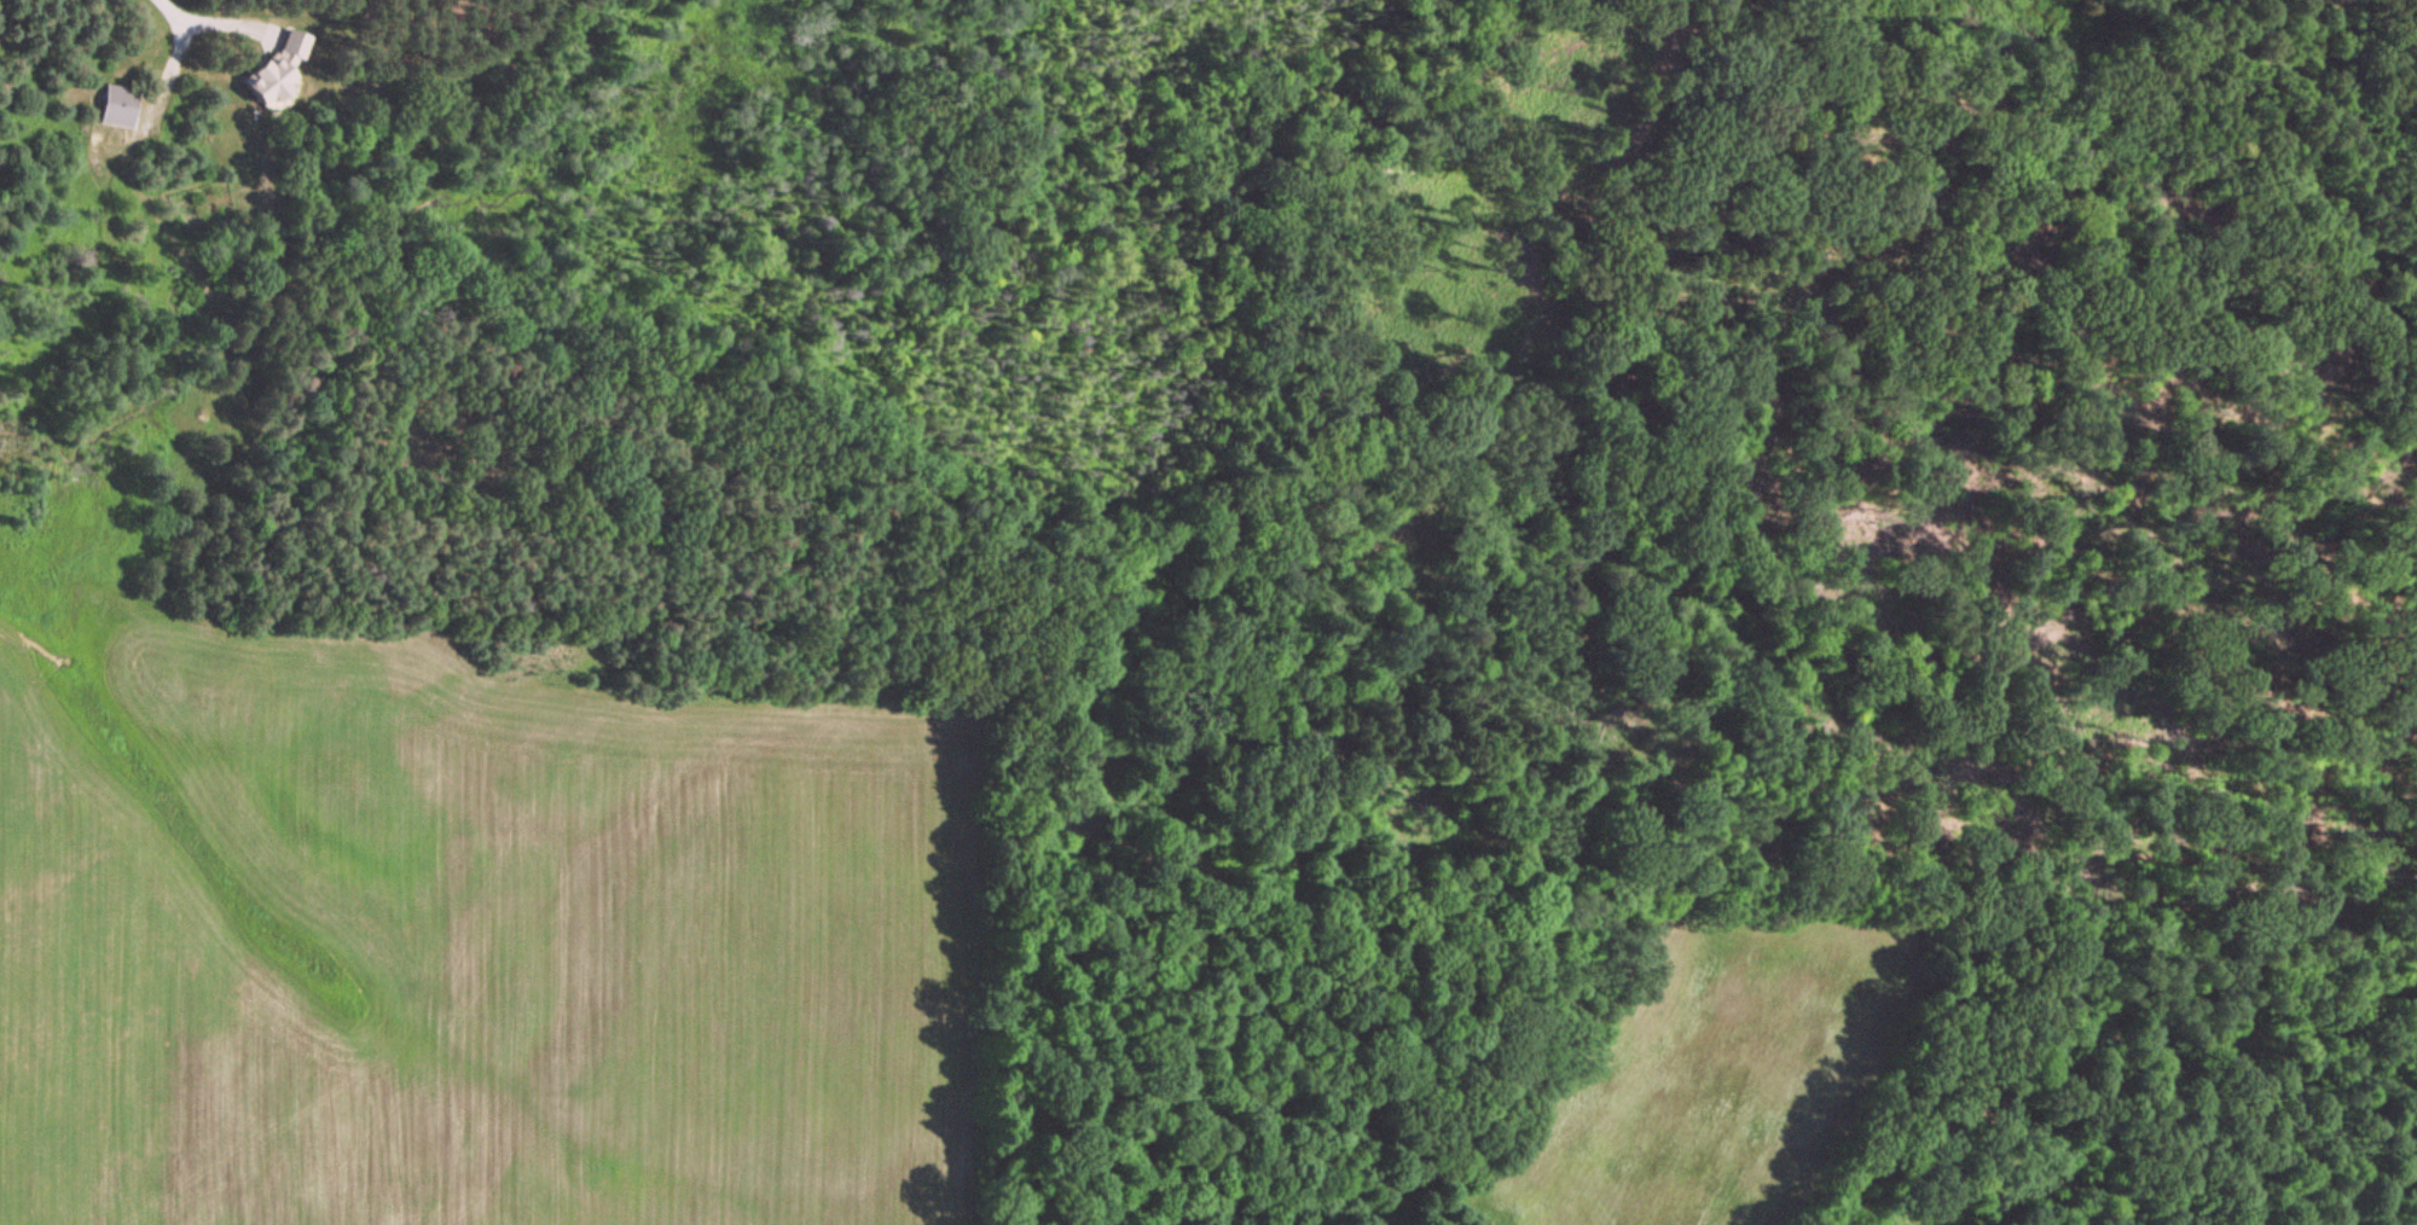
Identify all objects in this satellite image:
building: (276, 70)
building: (115, 105)

